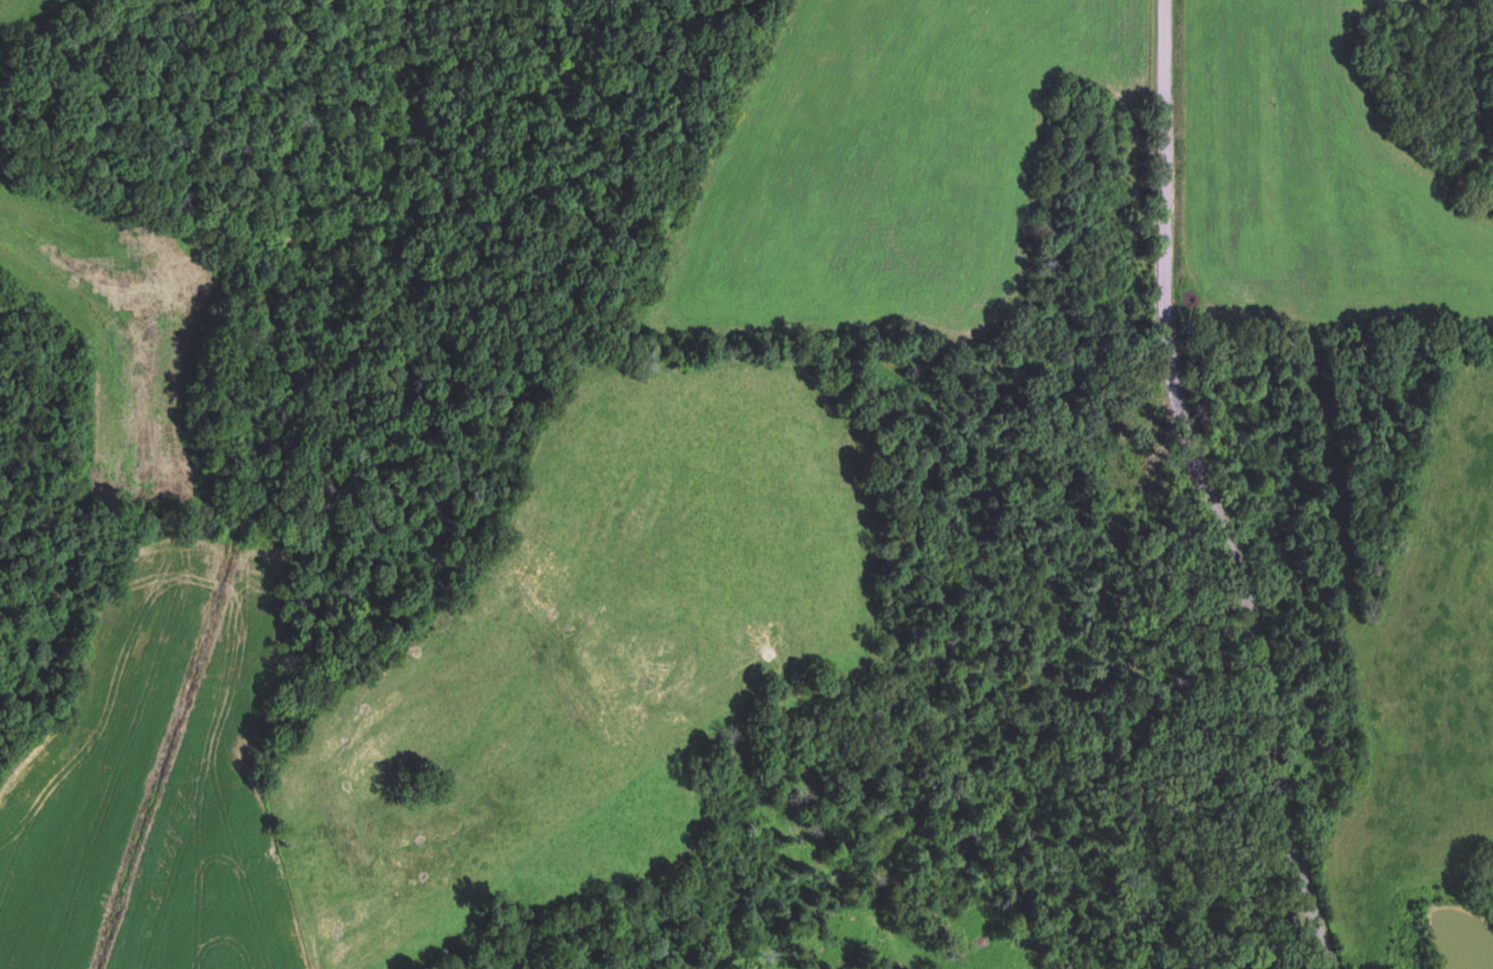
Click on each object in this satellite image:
road: (1329, 356)
road: (1201, 491)

